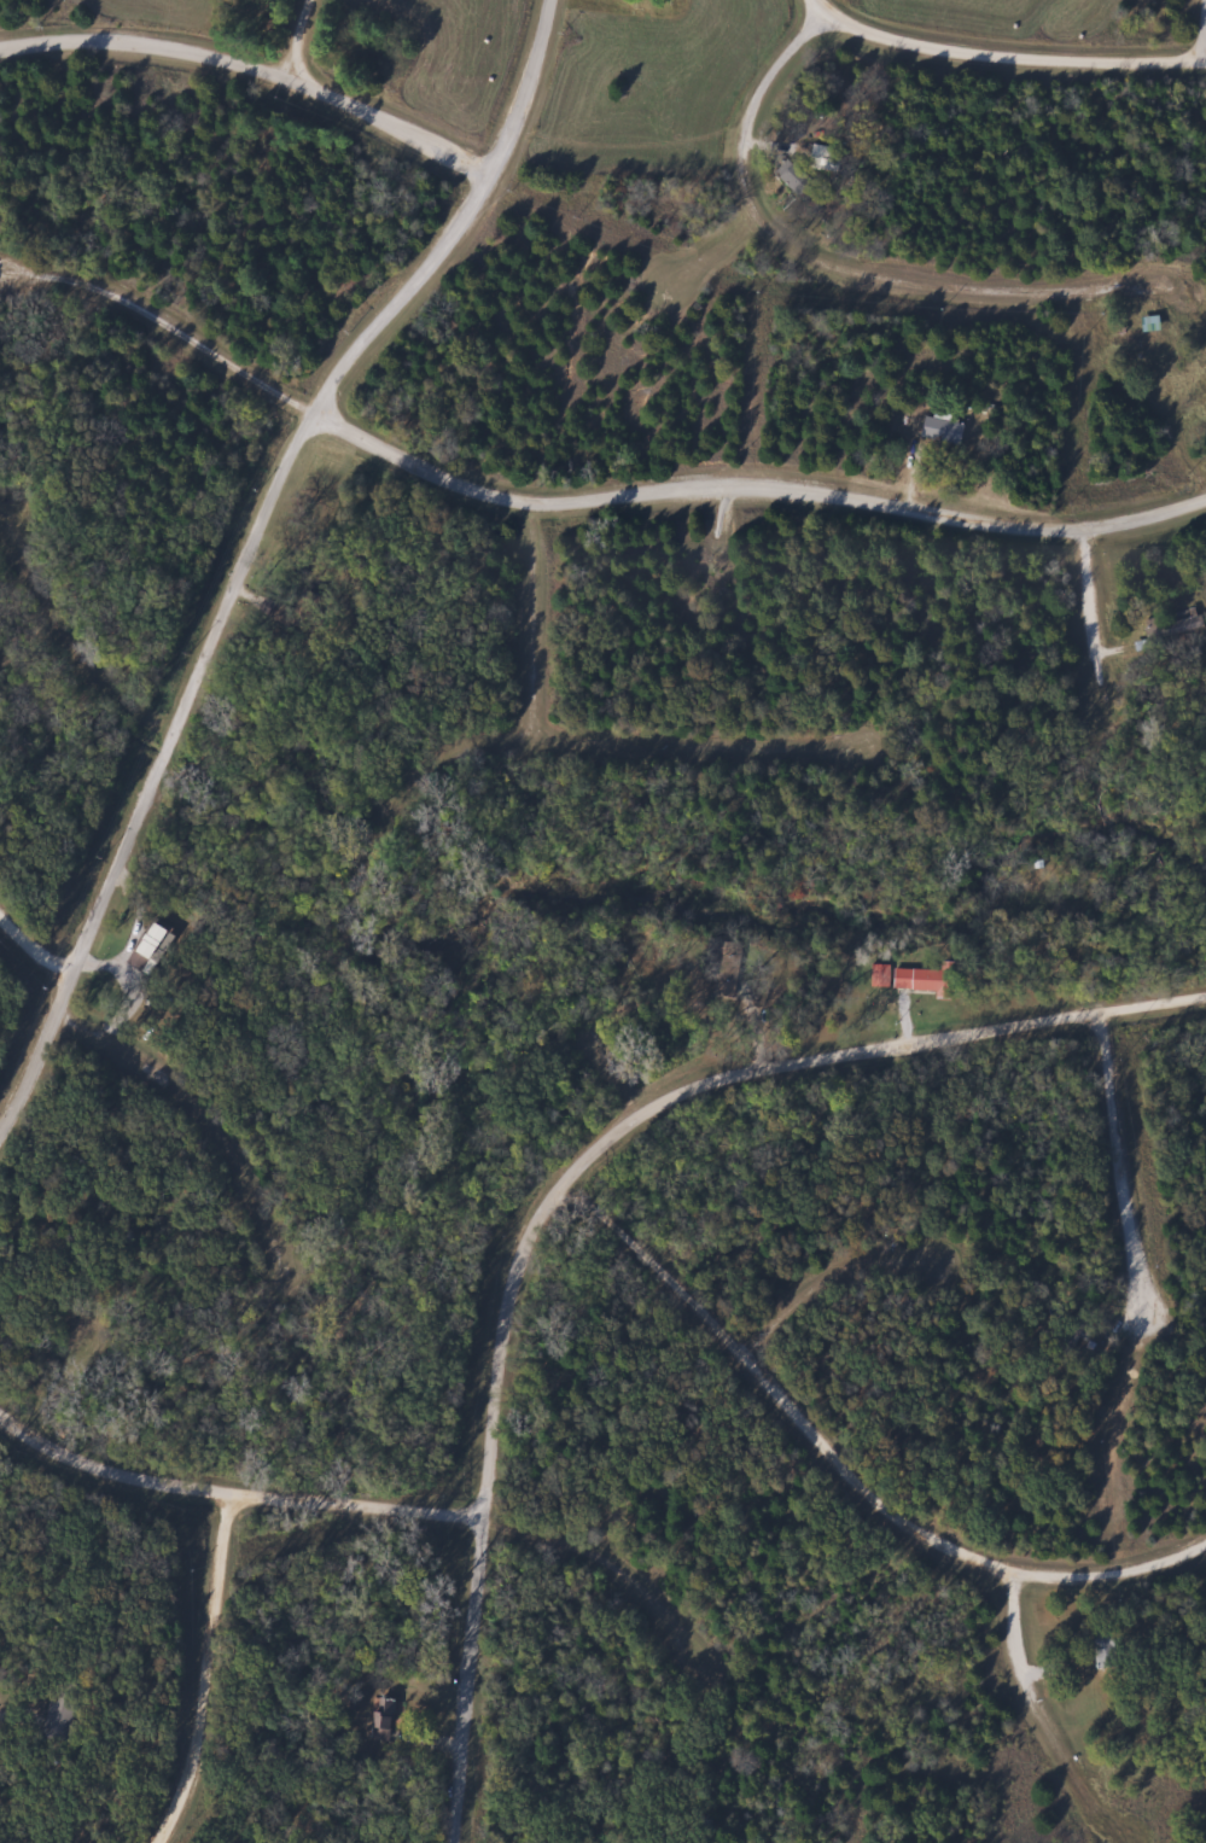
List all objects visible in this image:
road: (299, 40)
road: (1003, 49)
road: (254, 66)
building: (815, 157)
road: (816, 258)
road: (730, 279)
road: (1142, 281)
building: (1136, 334)
building: (939, 431)
road: (578, 501)
road: (250, 549)
road: (1094, 617)
building: (1171, 624)
road: (82, 649)
road: (582, 737)
road: (421, 800)
road: (37, 940)
building: (728, 966)
building: (909, 979)
road: (611, 1077)
road: (217, 1110)
road: (1124, 1163)
road: (569, 1180)
road: (825, 1281)
road: (62, 1377)
road: (840, 1469)
road: (231, 1486)
road: (605, 1562)
building: (1097, 1649)
road: (1019, 1652)
road: (211, 1668)
building: (59, 1719)

